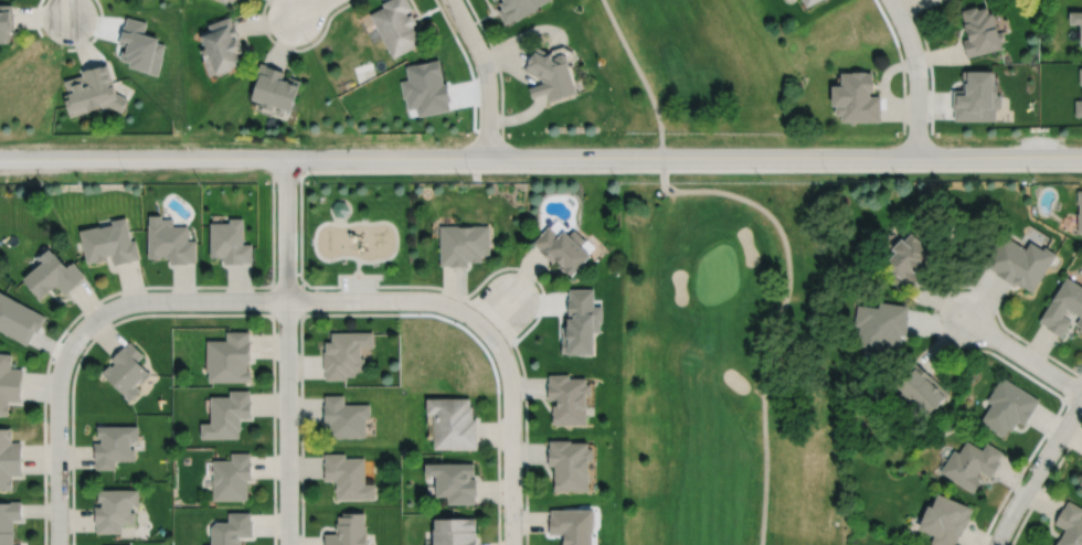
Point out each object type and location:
building: (227, 0)
building: (232, 0)
building: (491, 0)
building: (495, 0)
building: (224, 1)
building: (806, 1)
road: (66, 8)
road: (308, 8)
building: (520, 9)
building: (1076, 18)
building: (6, 20)
building: (396, 24)
road: (447, 24)
building: (979, 29)
building: (222, 44)
road: (67, 47)
road: (300, 47)
road: (901, 63)
road: (497, 64)
park: (698, 64)
road: (929, 64)
building: (550, 72)
road: (485, 73)
building: (1080, 73)
road: (915, 75)
building: (275, 85)
building: (92, 88)
building: (975, 94)
building: (855, 95)
building: (1079, 106)
road: (541, 154)
road: (694, 169)
building: (339, 206)
building: (1079, 209)
road: (343, 216)
road: (339, 220)
road: (358, 222)
road: (777, 226)
road: (286, 227)
building: (169, 239)
building: (230, 241)
building: (108, 242)
building: (463, 243)
building: (562, 247)
building: (905, 259)
building: (1018, 260)
road: (489, 272)
building: (52, 275)
road: (301, 282)
parking lot: (357, 282)
road: (299, 285)
road: (121, 289)
road: (290, 299)
road: (937, 299)
building: (1063, 306)
road: (188, 313)
building: (18, 318)
building: (581, 321)
building: (879, 327)
building: (343, 353)
road: (1021, 354)
building: (230, 356)
park: (729, 365)
building: (126, 370)
road: (300, 380)
building: (9, 382)
building: (920, 389)
building: (567, 398)
building: (1007, 406)
road: (511, 409)
building: (227, 414)
building: (343, 417)
road: (287, 421)
building: (452, 423)
road: (57, 424)
building: (114, 445)
road: (1028, 457)
building: (9, 458)
building: (969, 463)
building: (569, 464)
road: (497, 468)
road: (1036, 469)
building: (232, 477)
building: (346, 477)
building: (1081, 477)
building: (453, 481)
road: (1043, 483)
building: (1080, 483)
building: (114, 510)
building: (943, 520)
building: (8, 521)
building: (1070, 524)
building: (572, 525)
building: (232, 528)
building: (347, 530)
building: (453, 532)
building: (18, 544)

